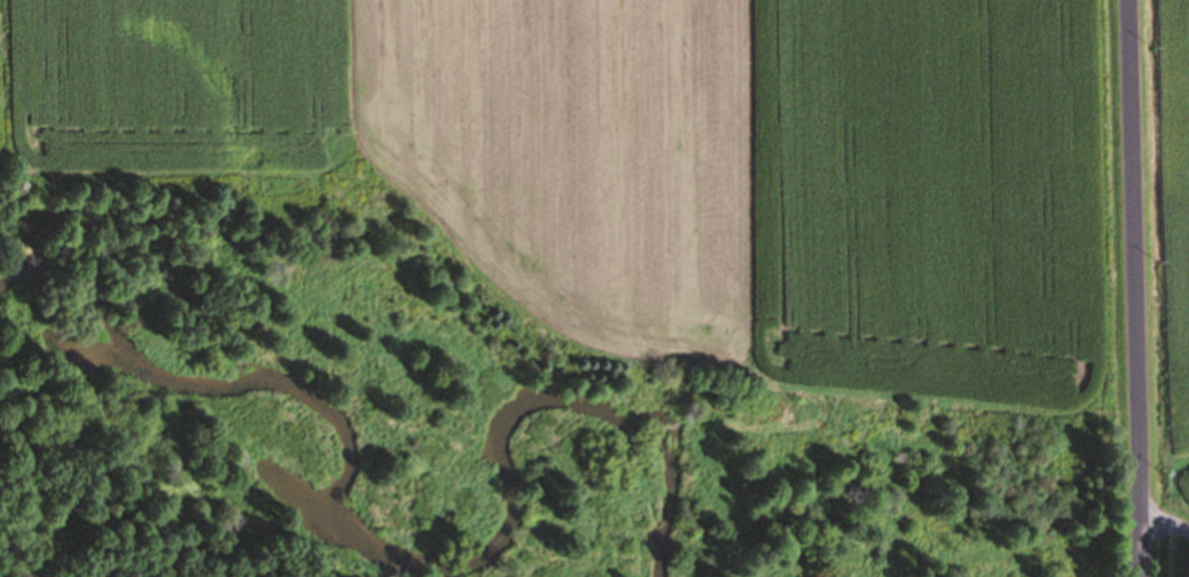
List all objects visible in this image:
road: (1141, 288)
road: (1169, 523)

